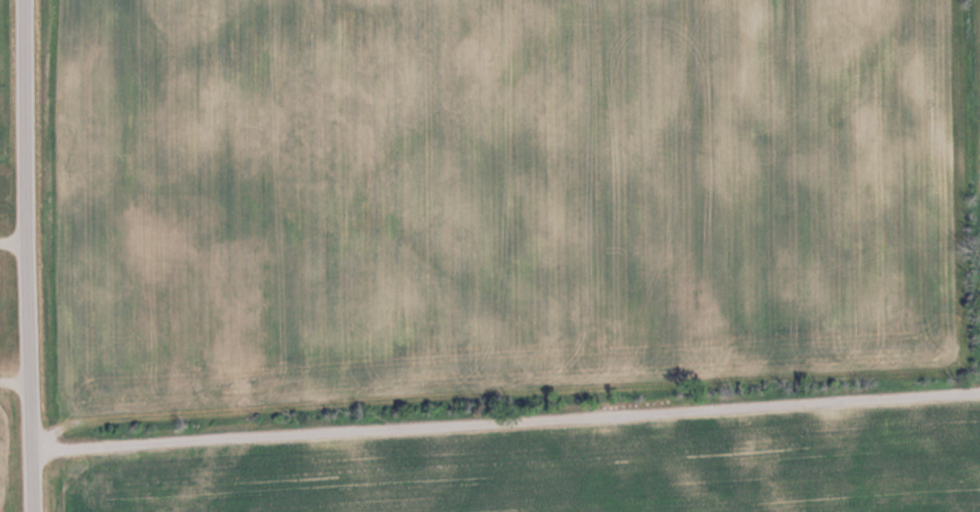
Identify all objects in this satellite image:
road: (26, 256)
road: (505, 415)

